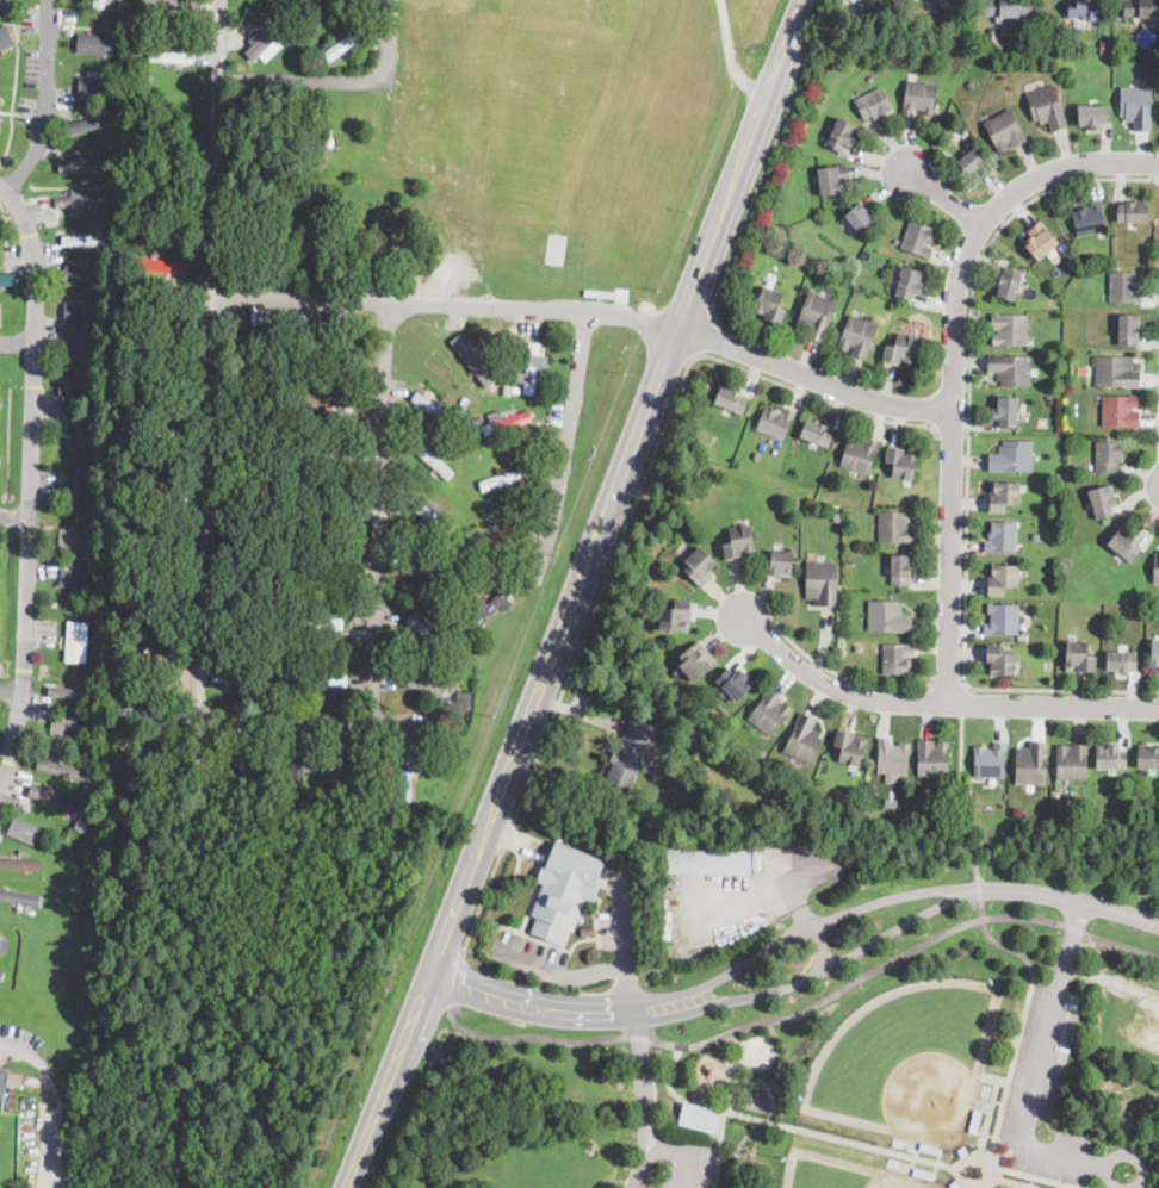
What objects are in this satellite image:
building: (950, 1)
building: (4, 2)
building: (98, 4)
building: (169, 5)
building: (297, 6)
building: (1012, 8)
building: (1085, 8)
building: (1141, 8)
building: (318, 14)
building: (298, 27)
building: (6, 35)
building: (269, 39)
building: (97, 42)
building: (1105, 48)
building: (339, 49)
road: (786, 50)
road: (732, 55)
building: (172, 57)
building: (114, 67)
building: (89, 74)
building: (143, 77)
road: (346, 83)
building: (97, 87)
building: (919, 98)
road: (47, 100)
building: (874, 105)
building: (1048, 107)
building: (1138, 107)
building: (1092, 117)
building: (89, 123)
building: (1004, 131)
building: (111, 135)
building: (842, 136)
building: (329, 139)
building: (106, 149)
building: (972, 162)
building: (85, 163)
building: (235, 173)
building: (833, 179)
road: (754, 195)
road: (948, 197)
building: (80, 200)
building: (312, 210)
building: (1132, 212)
building: (860, 216)
building: (820, 219)
building: (1090, 219)
building: (407, 223)
building: (1, 226)
building: (97, 229)
building: (411, 234)
building: (141, 236)
building: (918, 238)
building: (82, 240)
building: (1040, 241)
building: (377, 244)
building: (323, 249)
building: (87, 261)
building: (157, 265)
building: (1072, 265)
building: (82, 274)
building: (7, 279)
building: (910, 282)
building: (1009, 285)
building: (1123, 287)
road: (447, 304)
building: (771, 306)
building: (76, 310)
building: (0, 313)
building: (816, 316)
building: (159, 319)
building: (1009, 329)
building: (1129, 329)
road: (704, 335)
building: (857, 336)
building: (91, 337)
building: (330, 342)
road: (17, 344)
building: (280, 348)
building: (901, 349)
building: (80, 350)
building: (264, 352)
building: (320, 356)
building: (473, 362)
road: (954, 362)
building: (531, 368)
building: (1011, 369)
building: (1083, 371)
building: (1116, 372)
building: (305, 374)
building: (154, 375)
building: (278, 375)
road: (813, 379)
building: (0, 382)
building: (76, 382)
building: (494, 387)
building: (483, 388)
building: (507, 390)
building: (515, 390)
building: (256, 394)
building: (732, 399)
building: (334, 403)
building: (435, 409)
building: (1006, 411)
building: (1120, 411)
building: (477, 422)
building: (776, 422)
building: (507, 423)
building: (81, 429)
building: (154, 433)
building: (817, 434)
road: (954, 435)
road: (570, 446)
building: (327, 454)
building: (256, 455)
building: (758, 455)
building: (860, 455)
building: (1109, 455)
building: (1012, 456)
building: (432, 459)
road: (969, 462)
building: (903, 464)
building: (132, 465)
building: (278, 469)
road: (212, 475)
building: (504, 478)
building: (82, 484)
road: (29, 485)
building: (153, 489)
building: (1003, 497)
building: (1103, 500)
building: (793, 503)
building: (254, 508)
building: (324, 512)
building: (135, 515)
road: (13, 516)
road: (383, 516)
building: (837, 517)
building: (433, 520)
building: (97, 523)
building: (485, 527)
building: (895, 527)
building: (137, 528)
road: (625, 531)
building: (1036, 535)
building: (501, 536)
building: (1002, 537)
building: (78, 540)
building: (739, 542)
building: (153, 543)
building: (1124, 546)
building: (455, 551)
building: (447, 558)
building: (470, 560)
building: (850, 562)
building: (782, 564)
building: (258, 565)
building: (446, 566)
building: (700, 566)
building: (323, 568)
building: (472, 570)
building: (900, 570)
building: (1155, 570)
building: (432, 573)
building: (135, 578)
building: (75, 579)
building: (1002, 579)
building: (269, 581)
building: (457, 581)
building: (822, 583)
building: (149, 602)
building: (267, 603)
building: (491, 607)
building: (675, 616)
building: (887, 617)
building: (1003, 618)
building: (252, 620)
building: (321, 624)
building: (432, 635)
building: (76, 641)
building: (268, 642)
building: (278, 642)
road: (560, 645)
building: (860, 647)
building: (1154, 653)
building: (435, 655)
building: (149, 658)
building: (897, 658)
building: (1080, 658)
building: (295, 659)
building: (695, 661)
building: (1000, 661)
building: (1122, 661)
building: (248, 678)
building: (320, 680)
road: (848, 680)
building: (433, 683)
building: (735, 683)
road: (950, 686)
road: (12, 691)
building: (73, 693)
building: (274, 696)
building: (460, 698)
road: (937, 702)
building: (448, 711)
building: (145, 713)
building: (770, 713)
building: (88, 720)
building: (64, 728)
building: (725, 739)
building: (804, 739)
building: (849, 748)
building: (630, 753)
building: (892, 757)
building: (1110, 757)
building: (1147, 757)
building: (932, 759)
building: (990, 761)
building: (1072, 763)
building: (1031, 764)
building: (63, 767)
building: (148, 769)
building: (240, 771)
building: (355, 776)
building: (405, 776)
building: (297, 778)
building: (336, 788)
road: (960, 794)
building: (52, 798)
building: (389, 802)
building: (891, 804)
building: (302, 811)
building: (24, 831)
building: (44, 834)
building: (709, 862)
building: (20, 864)
building: (628, 878)
road: (979, 890)
building: (565, 891)
building: (20, 896)
road: (1070, 898)
road: (825, 919)
building: (4, 945)
road: (820, 946)
road: (901, 954)
road: (839, 962)
road: (559, 974)
building: (1, 976)
road: (457, 979)
park: (795, 1006)
road: (558, 1008)
road: (1024, 1014)
road: (634, 1015)
building: (47, 1021)
road: (533, 1037)
road: (639, 1037)
park: (911, 1062)
road: (1040, 1068)
building: (14, 1080)
building: (2, 1082)
building: (11, 1090)
building: (11, 1099)
building: (27, 1106)
building: (27, 1115)
building: (700, 1118)
building: (975, 1122)
road: (787, 1125)
road: (665, 1147)
road: (719, 1149)
building: (930, 1149)
building: (963, 1152)
road: (1121, 1156)
park: (841, 1173)
building: (924, 1175)
road: (1042, 1180)
building: (955, 1186)

